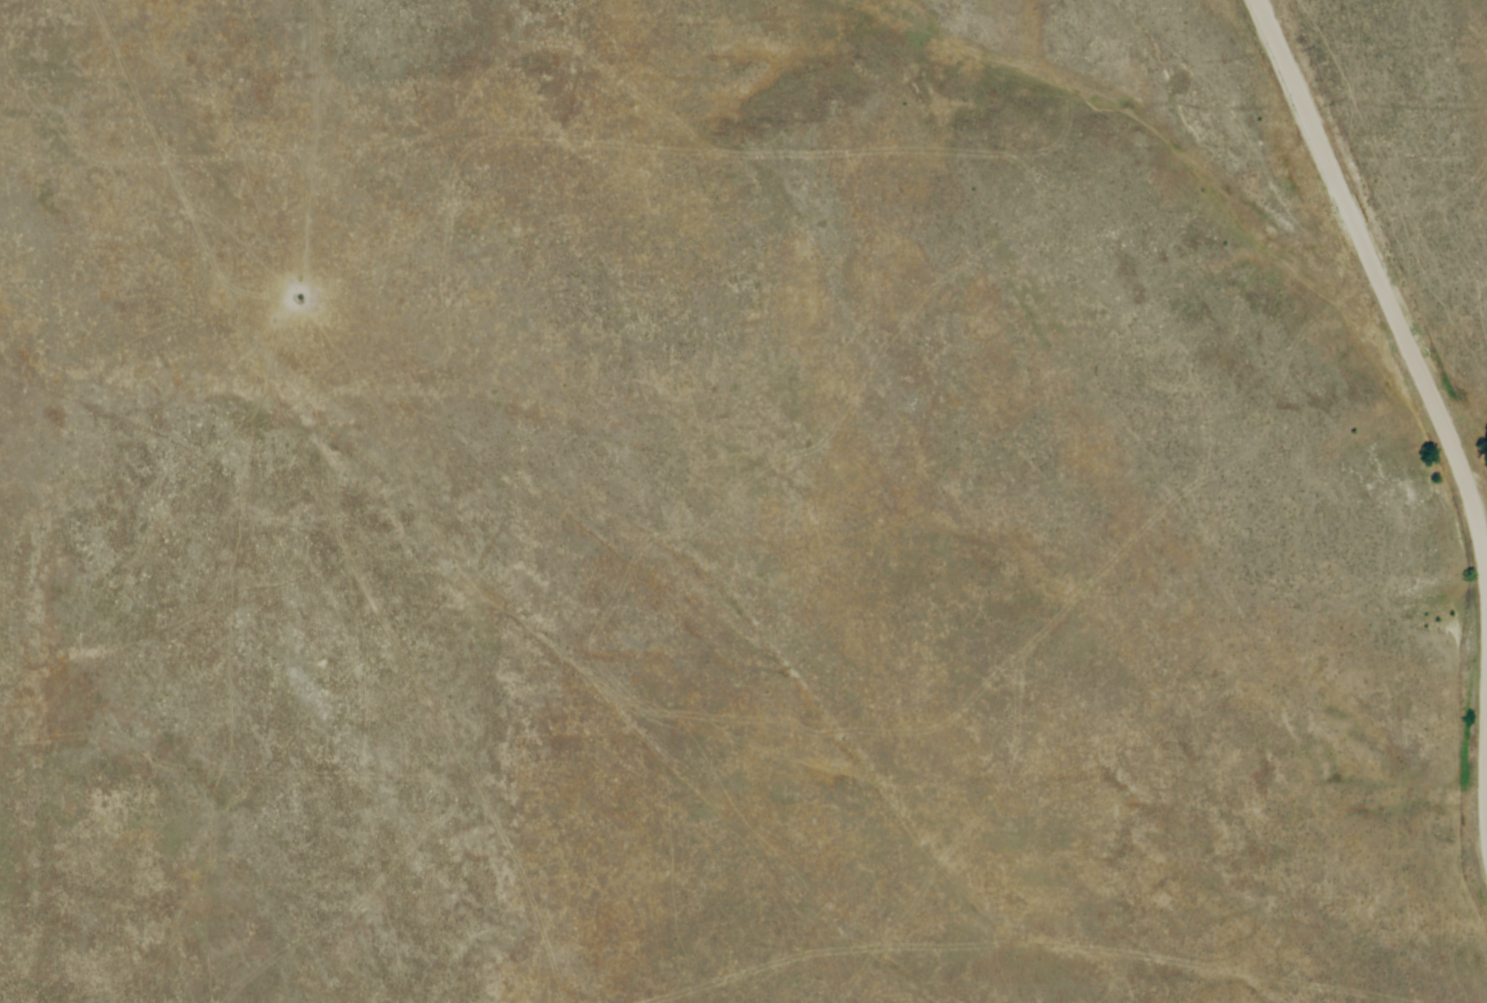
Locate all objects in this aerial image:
park: (1437, 227)
road: (1379, 281)

